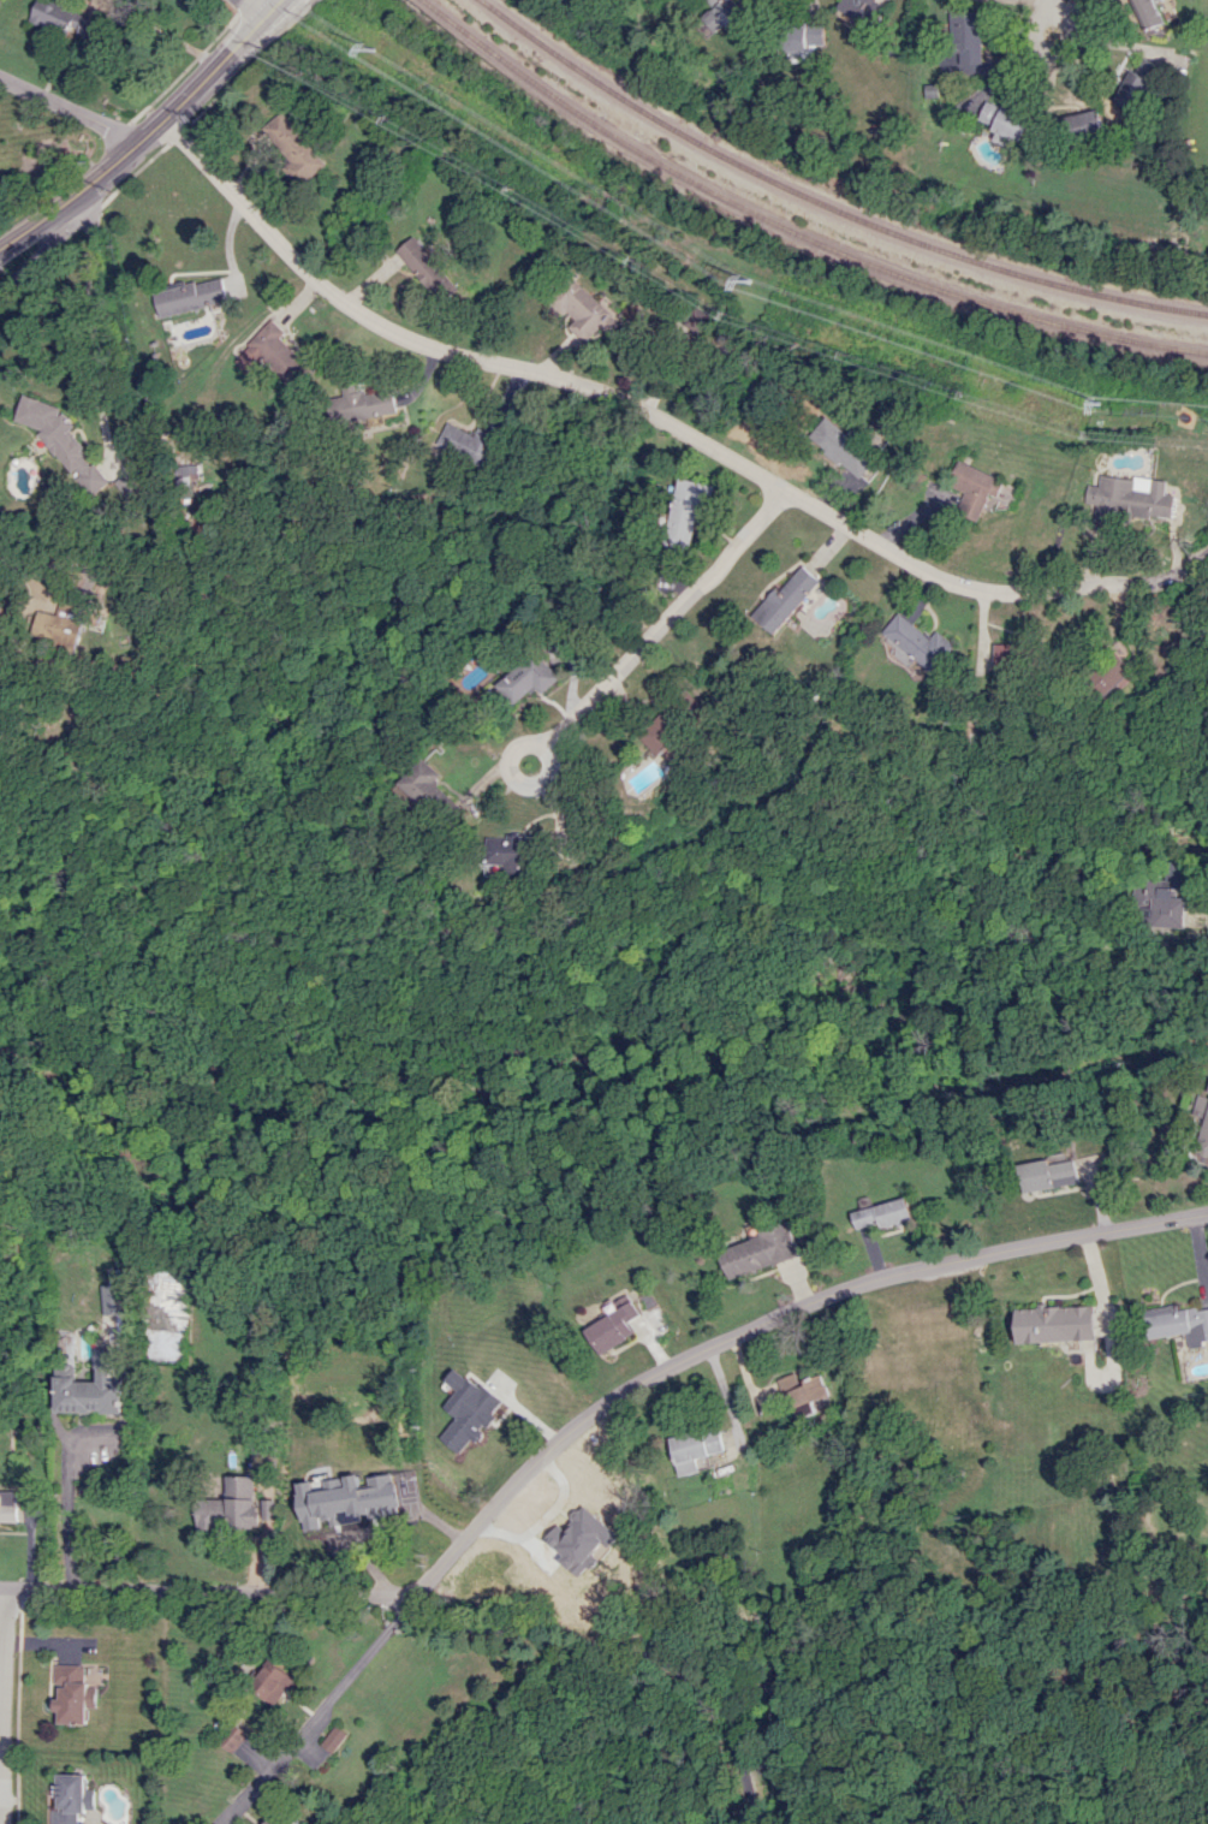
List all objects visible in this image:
road: (1052, 1)
road: (308, 4)
park: (228, 5)
road: (244, 5)
road: (256, 5)
road: (270, 5)
building: (859, 8)
building: (1147, 13)
building: (726, 16)
building: (54, 17)
building: (805, 36)
building: (965, 37)
road: (1120, 44)
road: (1054, 48)
power tower: (373, 52)
road: (245, 66)
road: (185, 69)
building: (1132, 83)
road: (182, 101)
road: (69, 109)
building: (1002, 119)
road: (178, 133)
building: (291, 145)
road: (135, 173)
railway: (828, 202)
road: (46, 216)
railway: (789, 230)
road: (53, 244)
building: (424, 266)
building: (189, 296)
building: (582, 310)
road: (91, 339)
building: (273, 355)
building: (364, 403)
road: (662, 420)
building: (61, 440)
building: (470, 444)
building: (840, 447)
building: (129, 486)
building: (974, 488)
building: (1129, 498)
building: (688, 510)
road: (29, 563)
building: (785, 598)
building: (69, 631)
building: (916, 643)
building: (1006, 655)
road: (623, 667)
building: (1112, 675)
building: (530, 678)
building: (662, 730)
building: (432, 786)
building: (512, 852)
building: (1165, 897)
building: (1204, 1135)
building: (1048, 1175)
building: (882, 1214)
building: (760, 1250)
building: (118, 1299)
building: (1177, 1323)
building: (1055, 1324)
building: (612, 1327)
building: (93, 1388)
building: (801, 1395)
building: (466, 1410)
road: (585, 1416)
building: (692, 1449)
building: (231, 1505)
building: (8, 1507)
road: (65, 1510)
building: (358, 1514)
building: (579, 1540)
road: (629, 1653)
road: (2, 1673)
building: (272, 1681)
building: (73, 1694)
road: (317, 1710)
building: (233, 1737)
building: (332, 1739)
building: (71, 1799)
building: (279, 1820)

